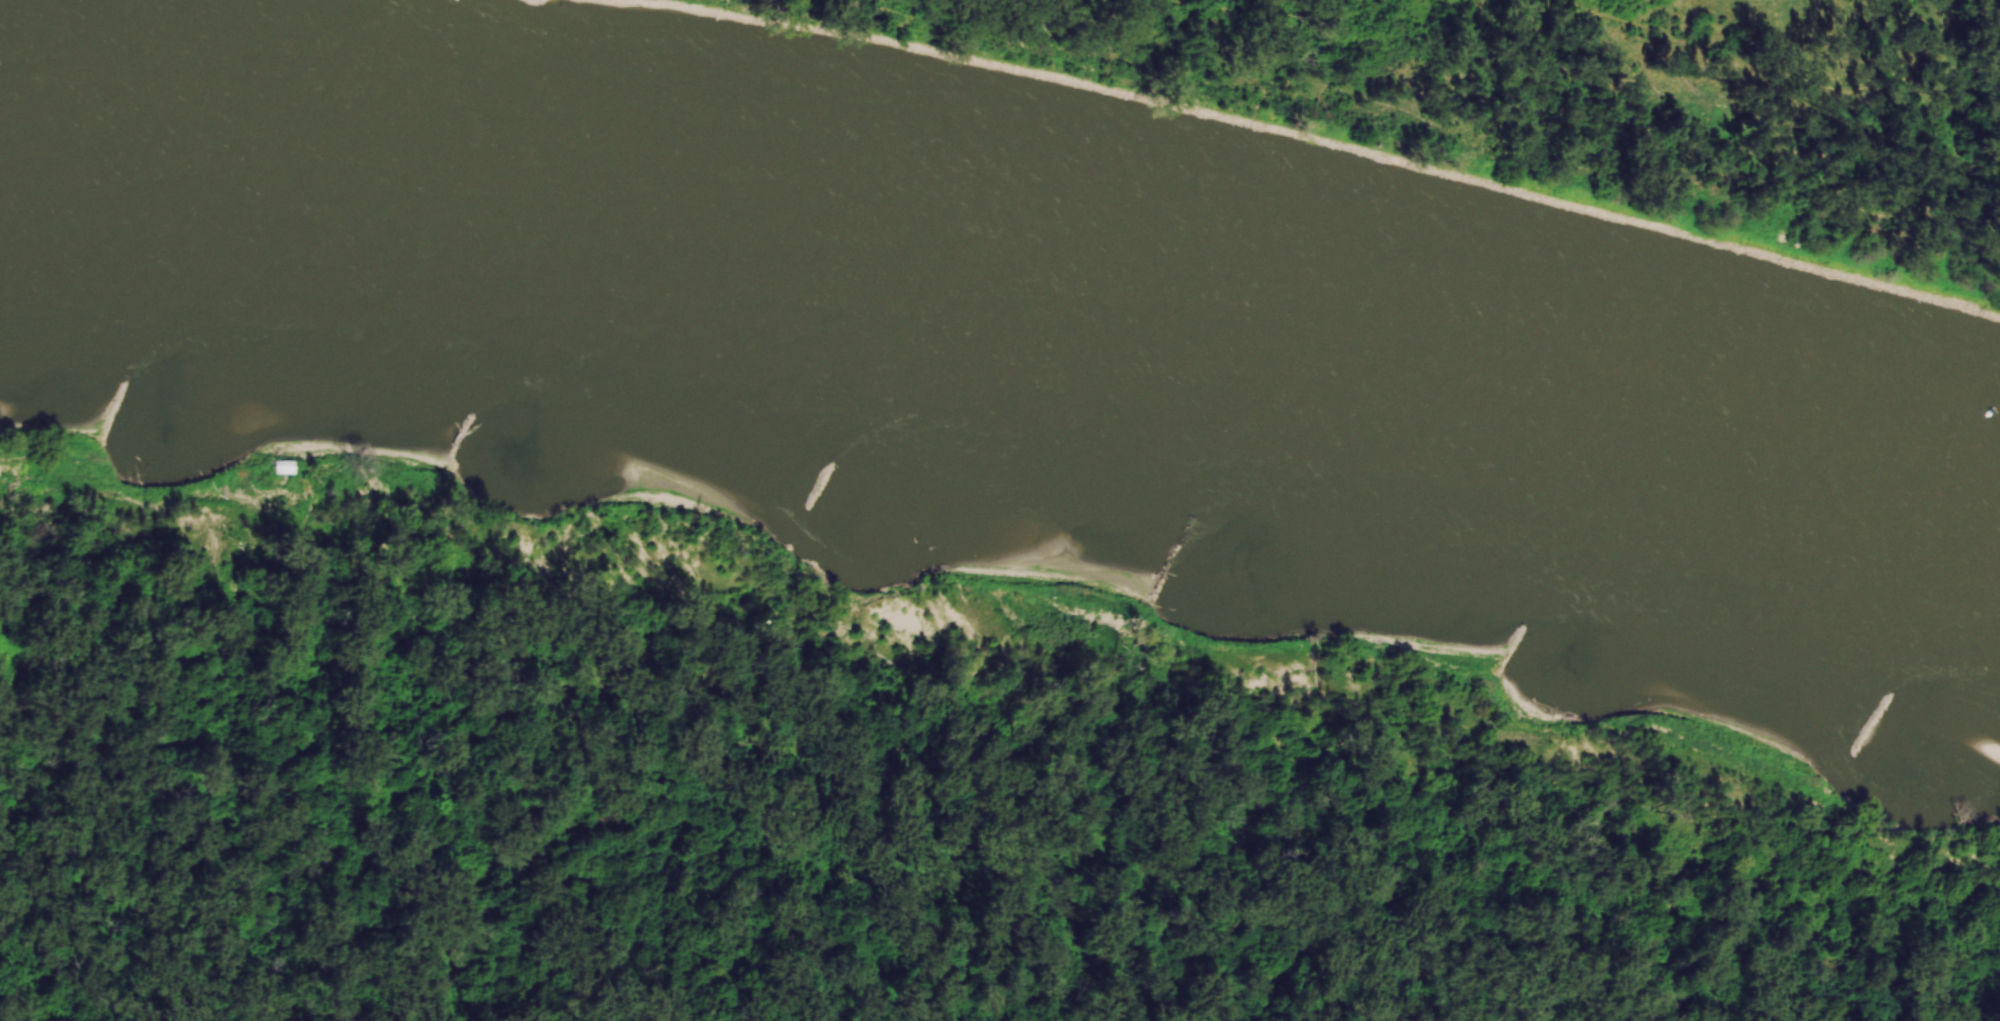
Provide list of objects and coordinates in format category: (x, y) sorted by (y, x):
road: (544, 1)
road: (559, 4)
park: (1541, 110)
river: (1008, 334)

